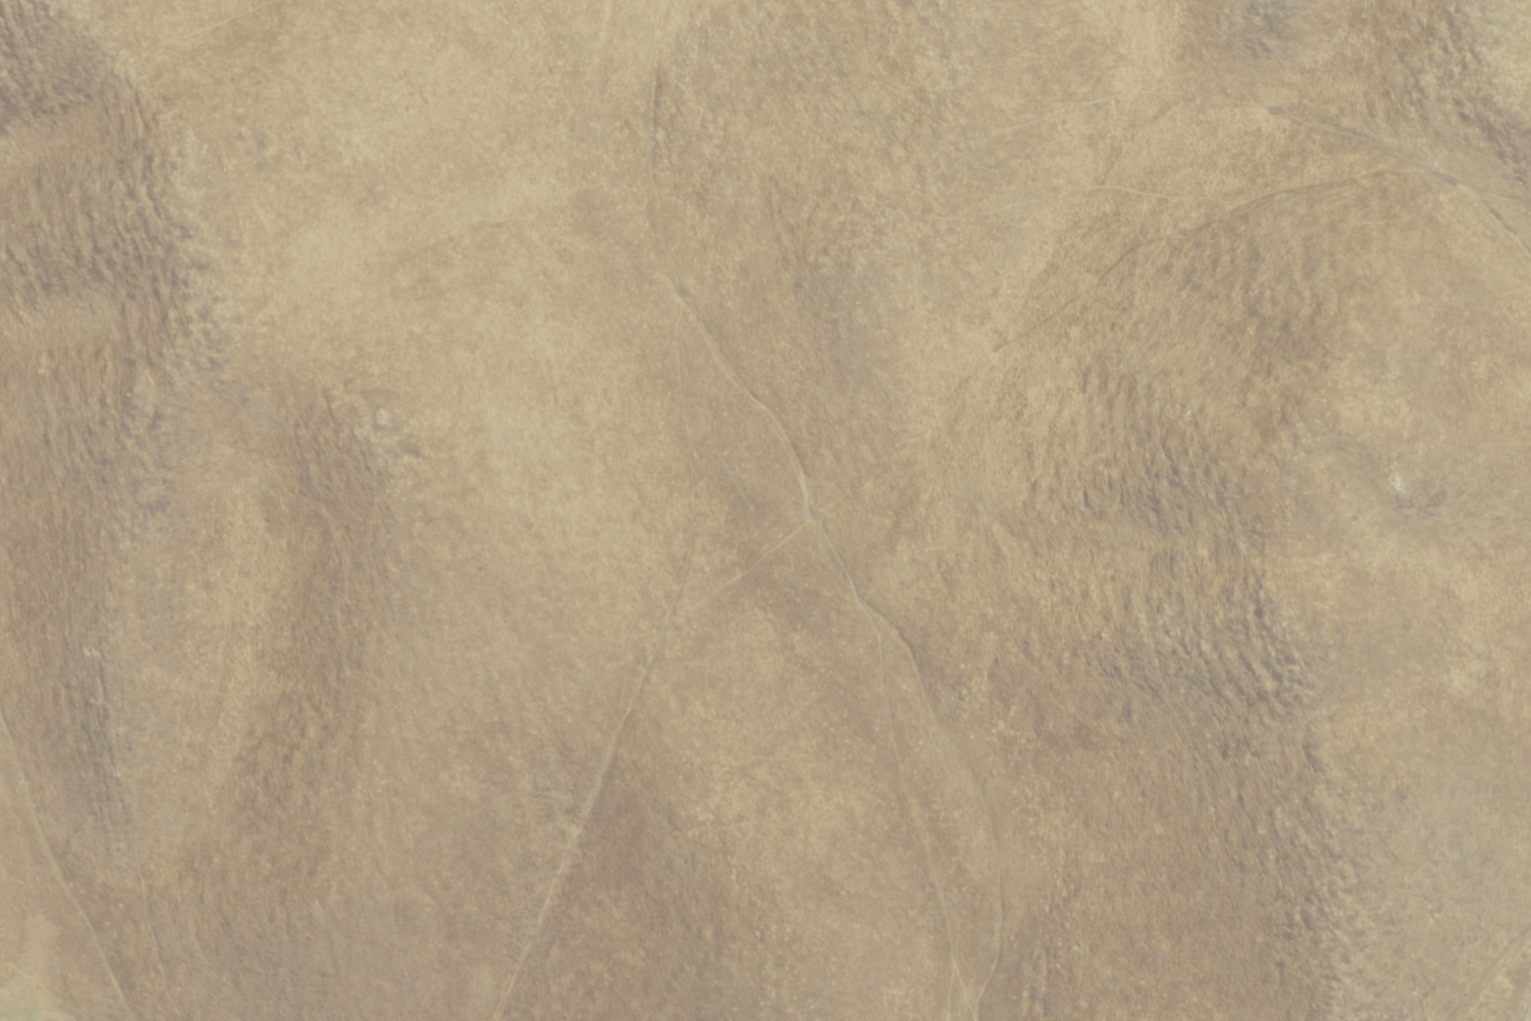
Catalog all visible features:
road: (1458, 914)

